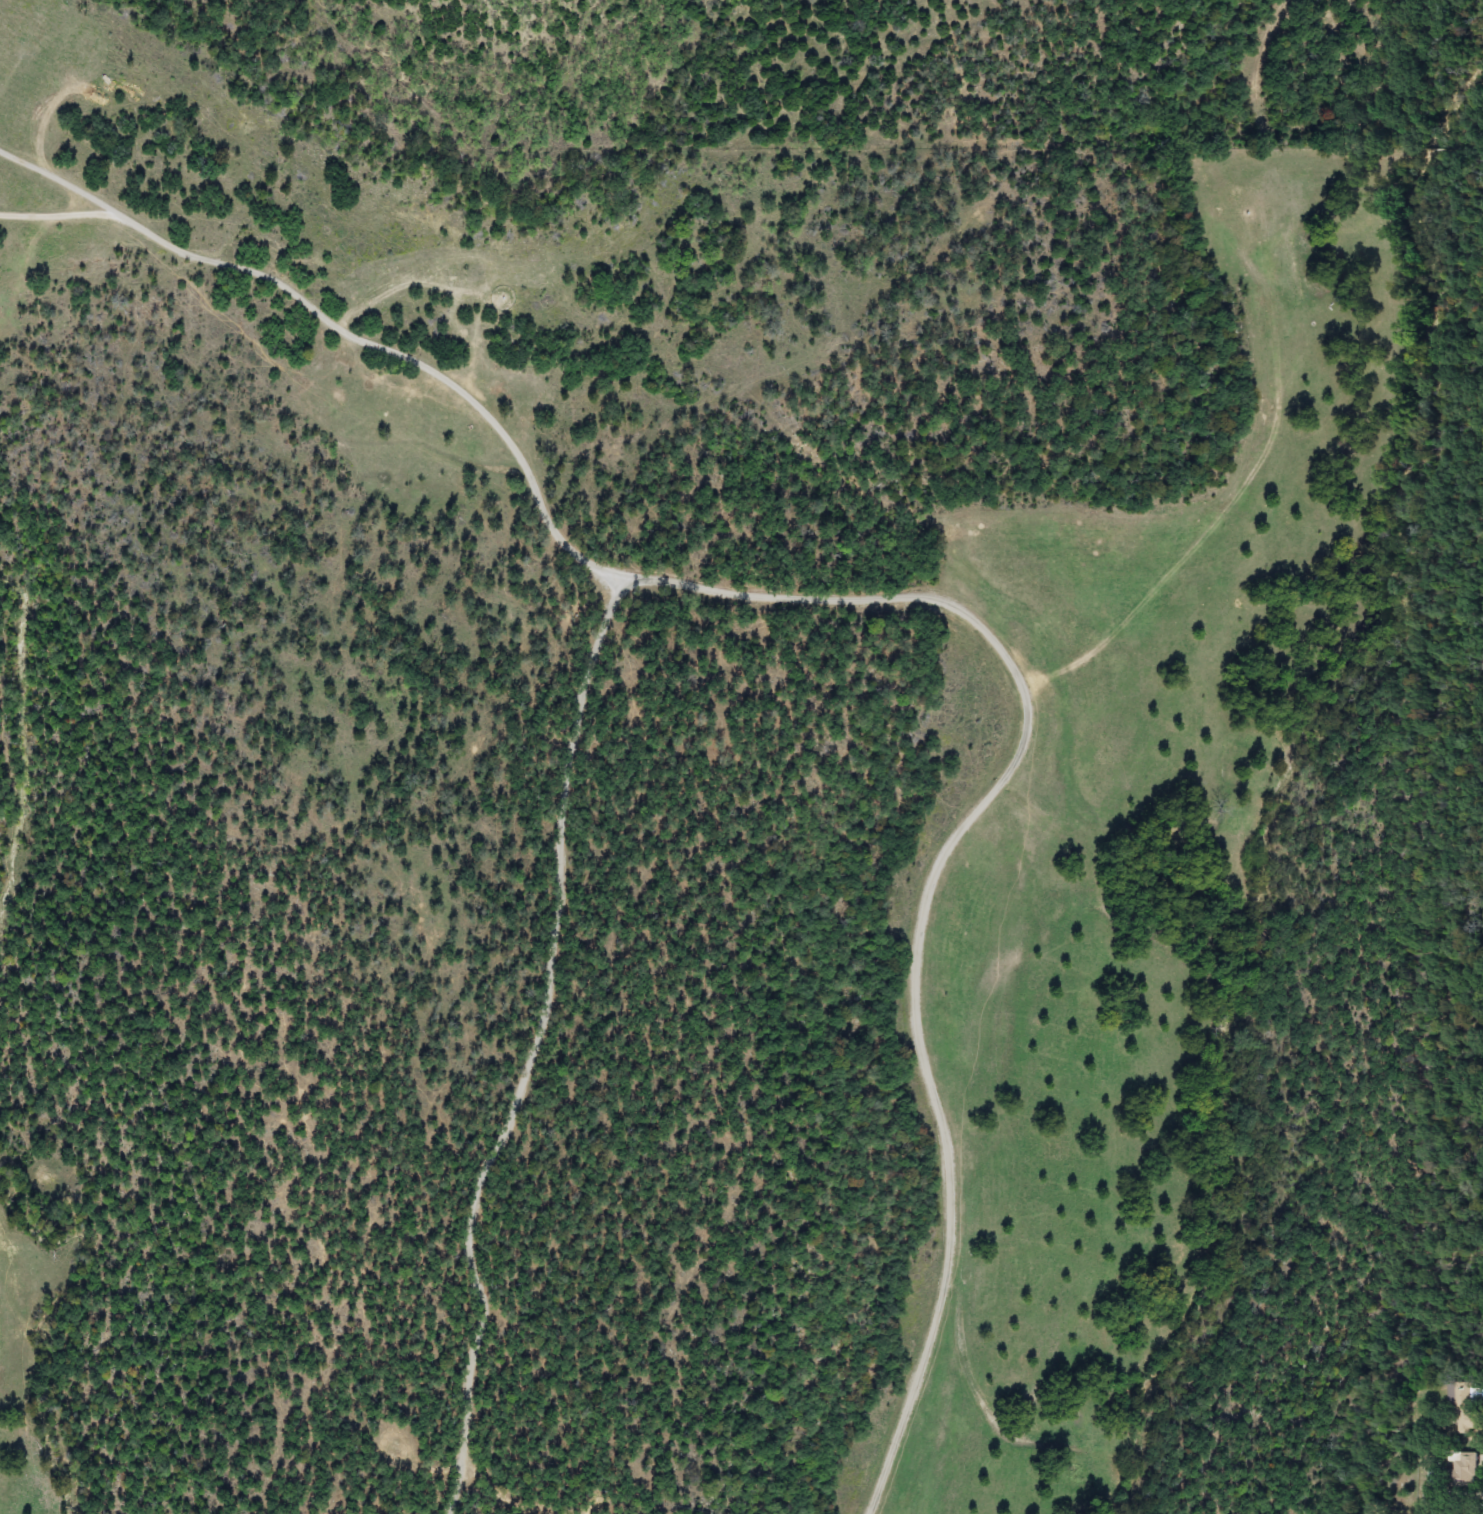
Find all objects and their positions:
road: (891, 595)
road: (538, 1044)
building: (1466, 1407)
building: (1465, 1469)

